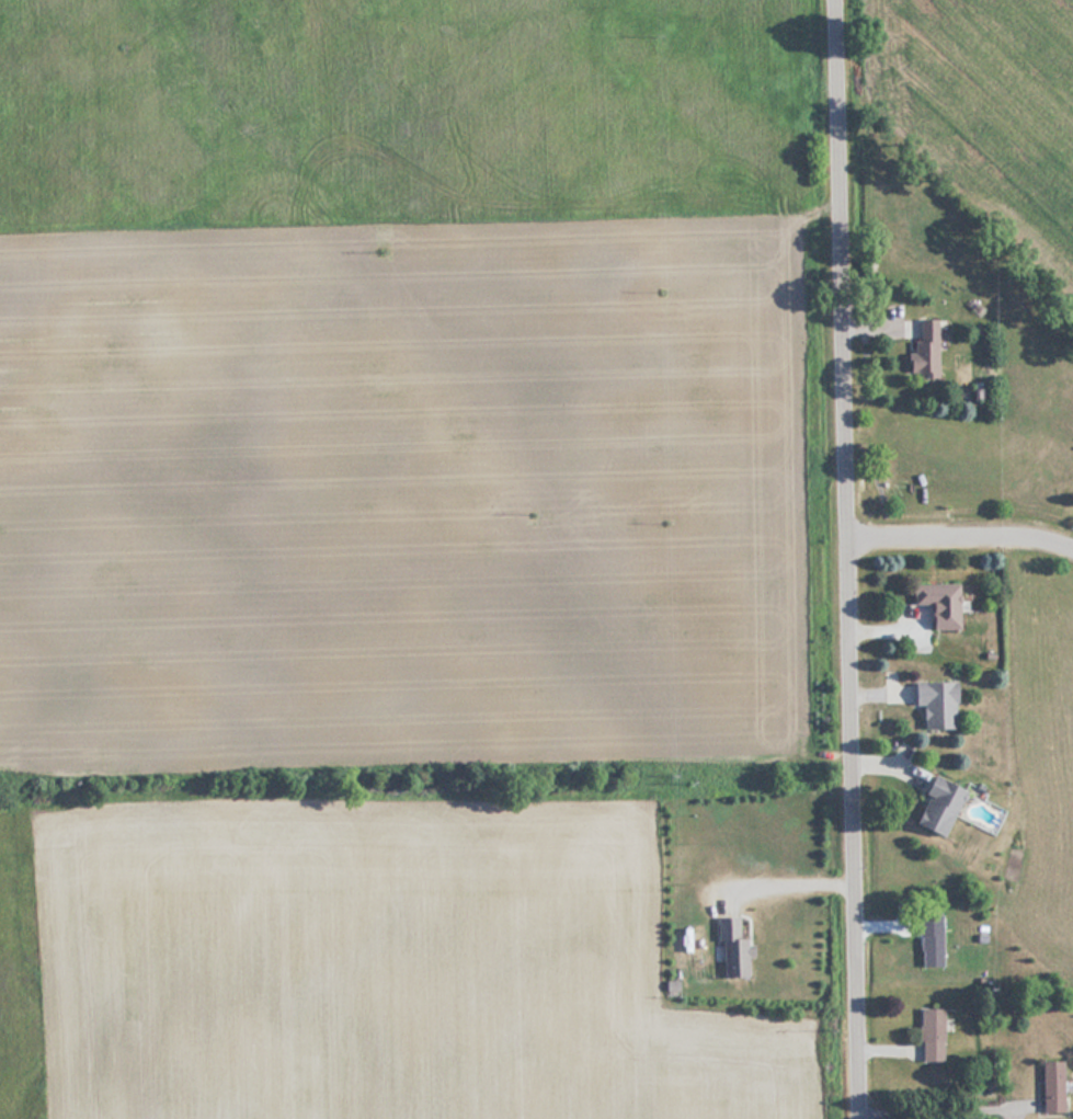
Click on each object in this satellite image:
building: (921, 351)
road: (962, 539)
road: (849, 559)
building: (935, 602)
building: (932, 703)
building: (933, 807)
road: (790, 886)
building: (729, 948)
building: (928, 949)
building: (927, 1034)
building: (1050, 1086)
road: (947, 1105)

